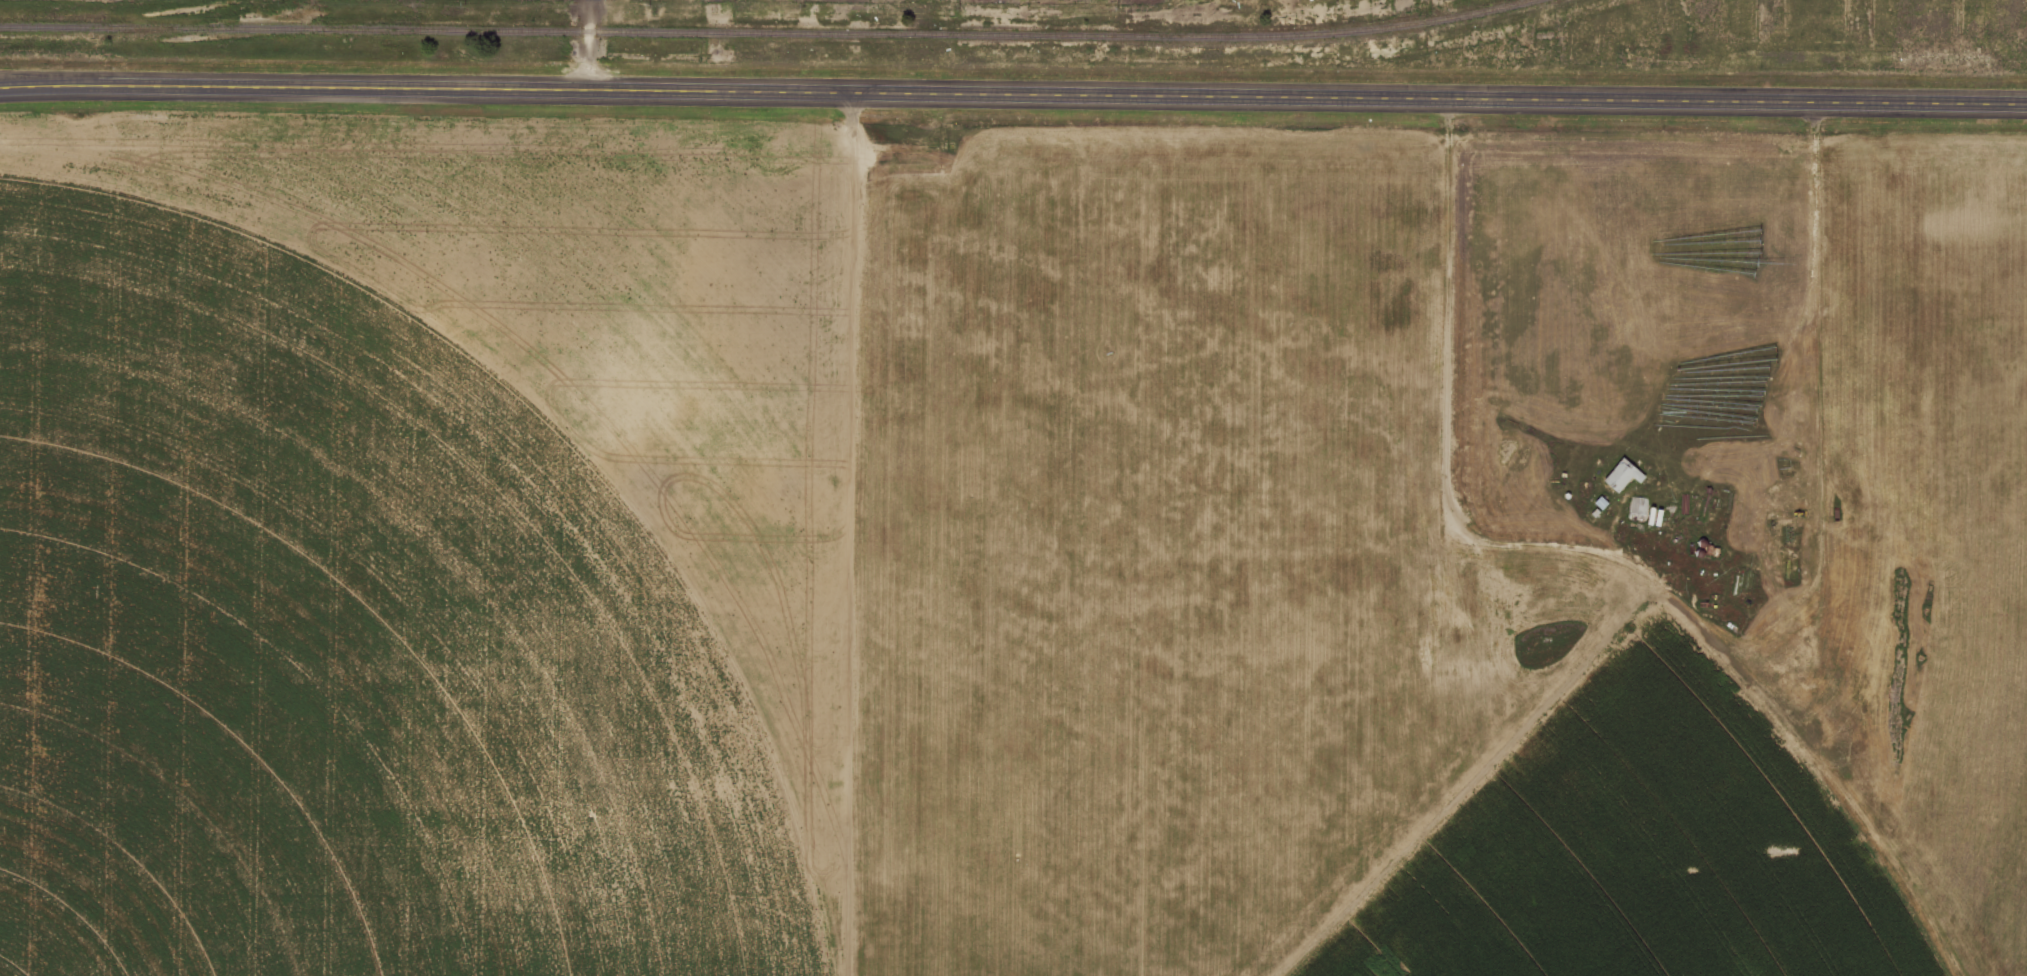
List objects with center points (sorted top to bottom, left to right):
railway: (168, 27)
railway: (931, 34)
road: (588, 45)
road: (17, 82)
road: (1013, 91)
road: (1791, 266)
building: (1626, 475)

